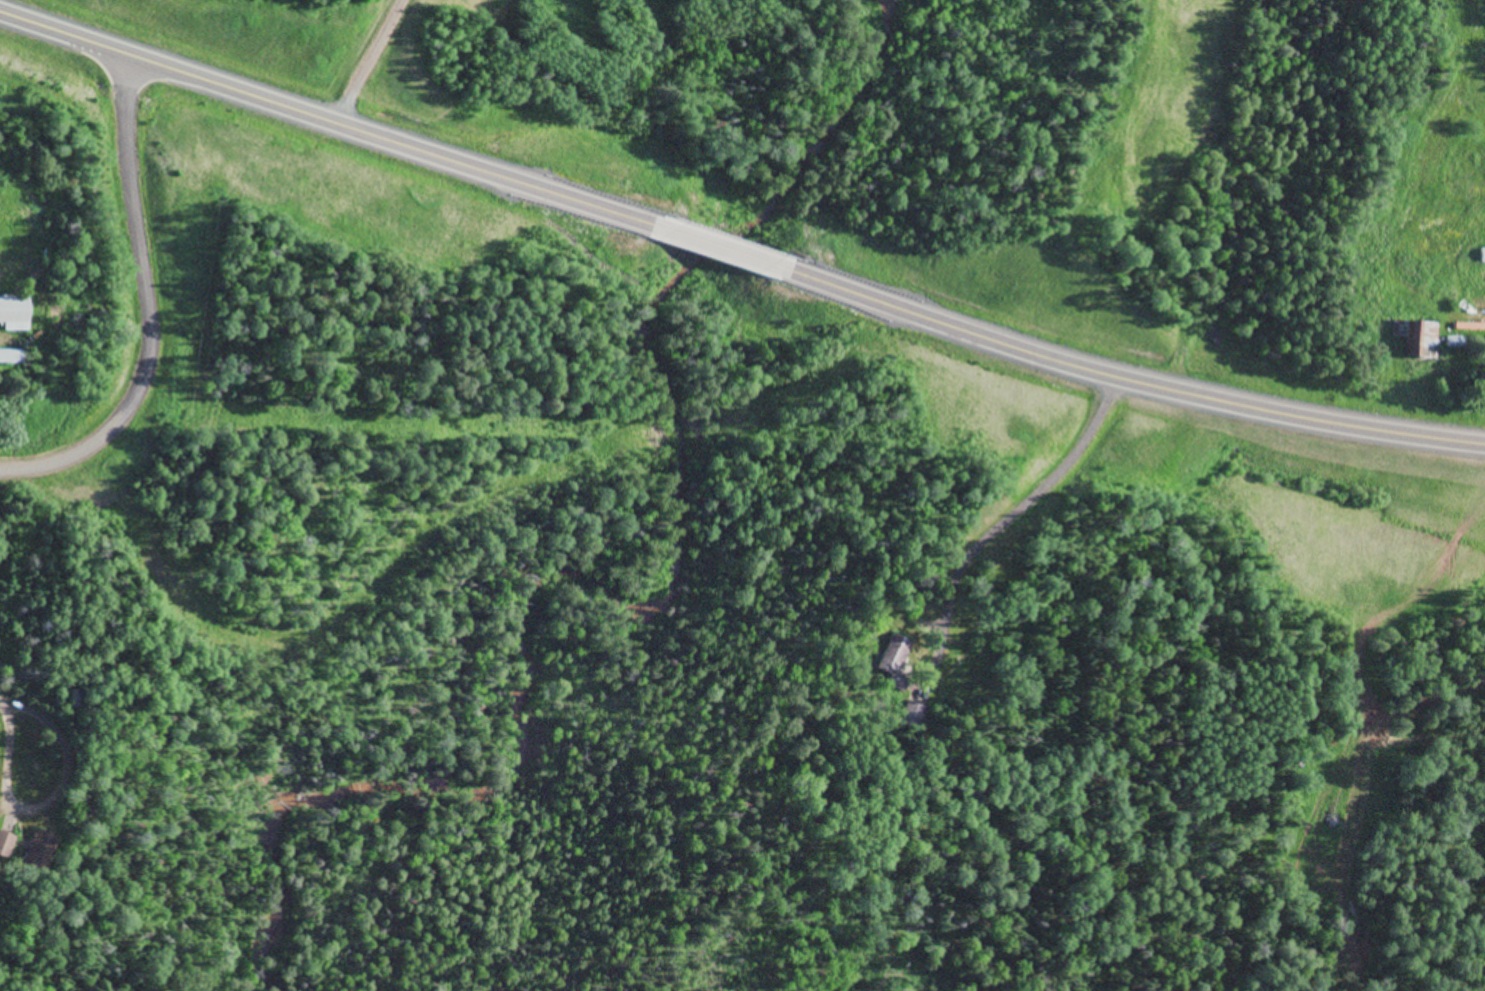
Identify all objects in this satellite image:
road: (331, 118)
road: (712, 246)
building: (1479, 256)
road: (148, 307)
building: (11, 314)
building: (1396, 338)
building: (1422, 340)
road: (1119, 373)
road: (476, 517)
building: (891, 654)
building: (912, 714)
building: (4, 844)
building: (36, 850)

